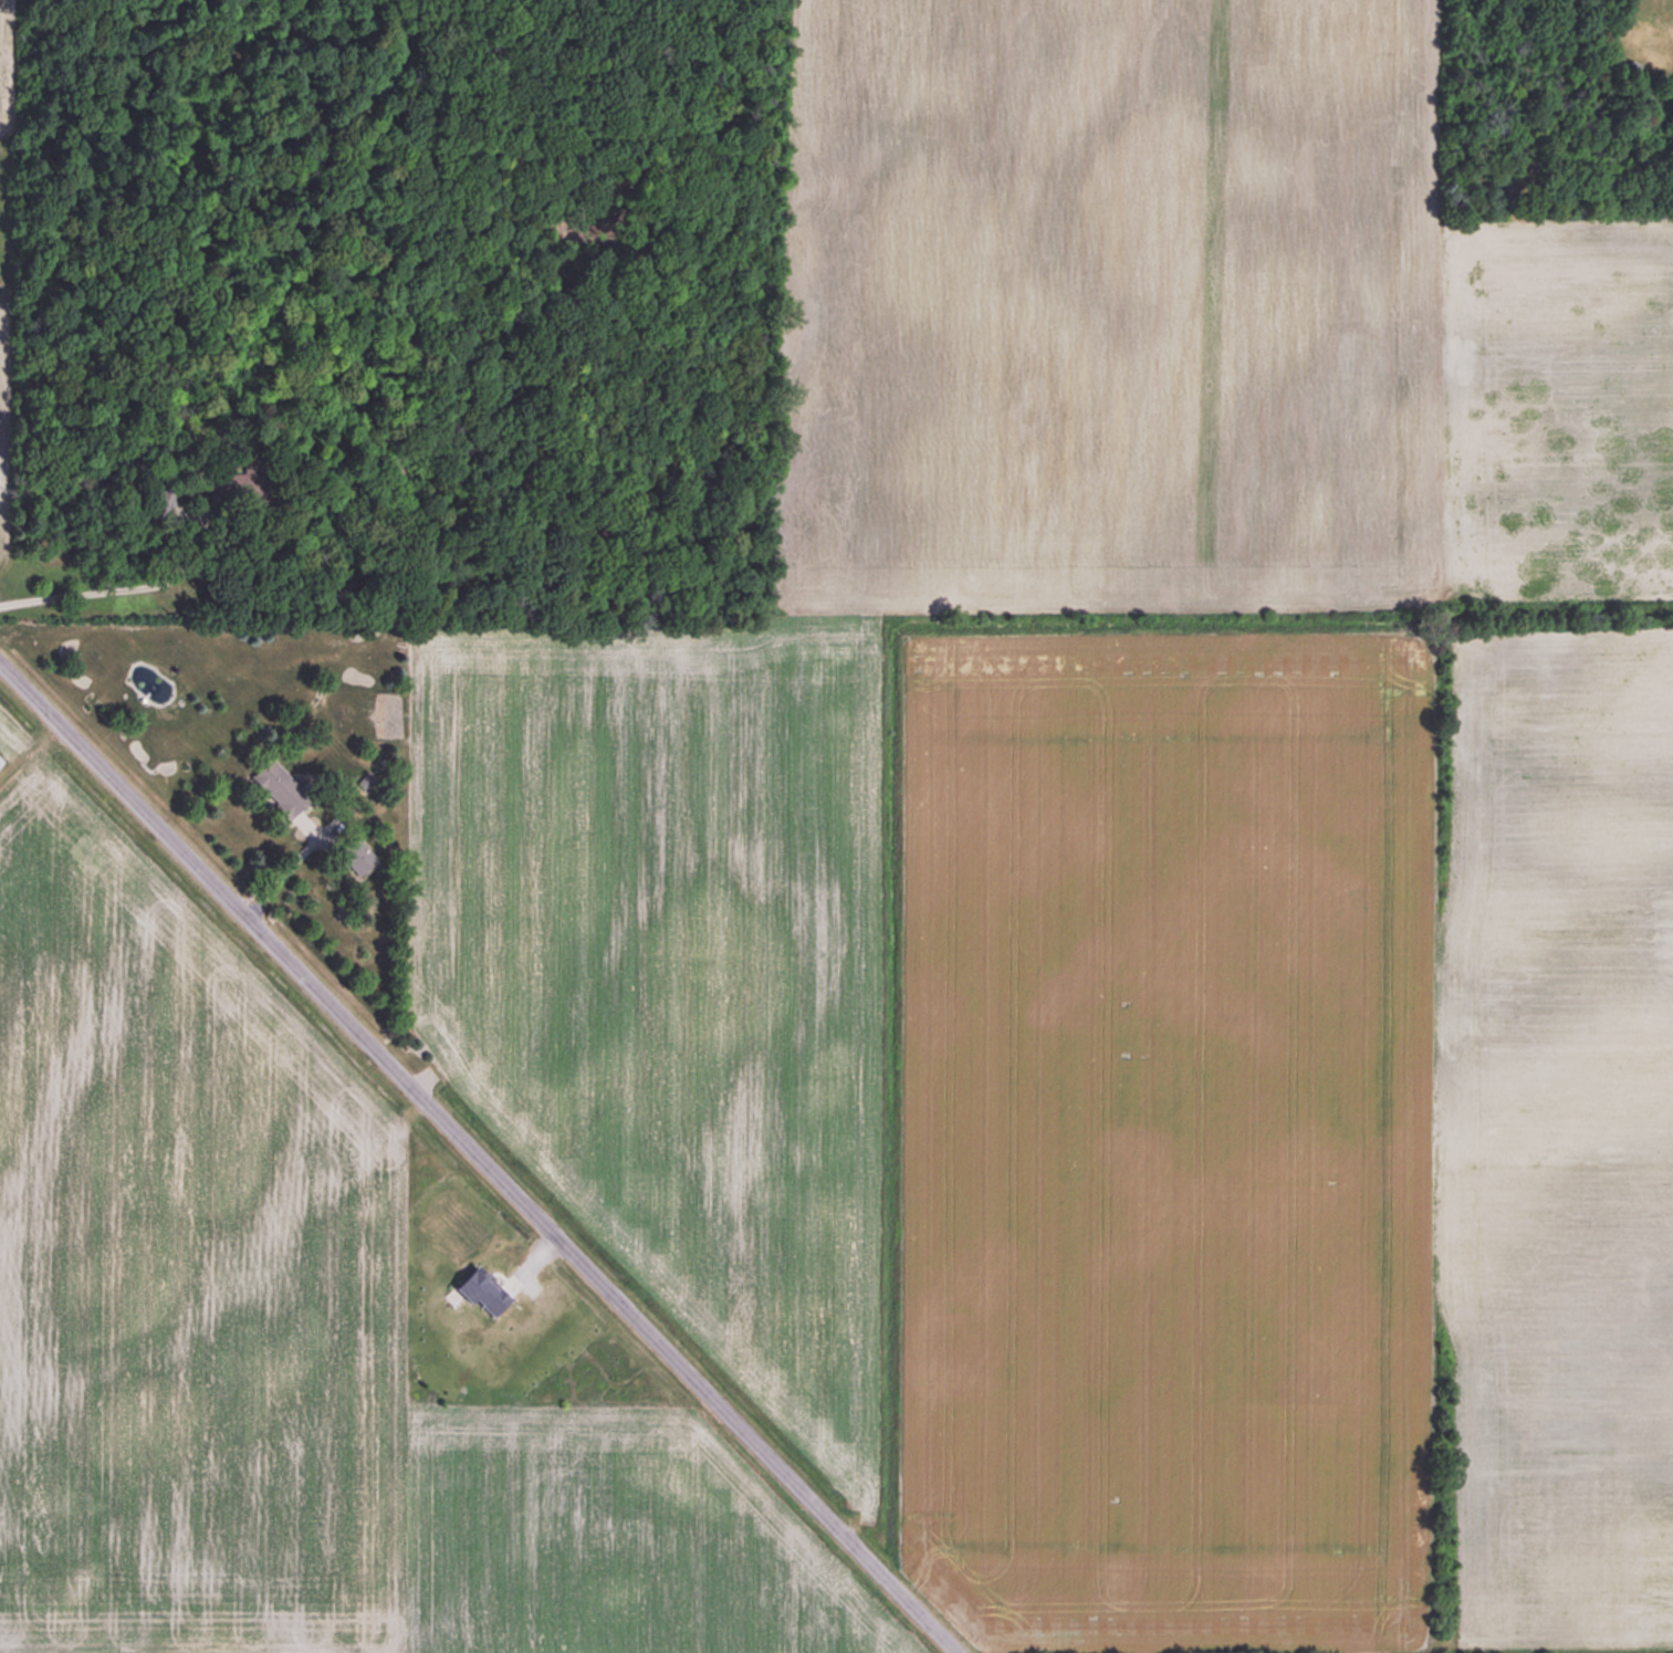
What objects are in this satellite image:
road: (95, 590)
building: (279, 788)
building: (354, 856)
road: (482, 1153)
building: (479, 1290)

